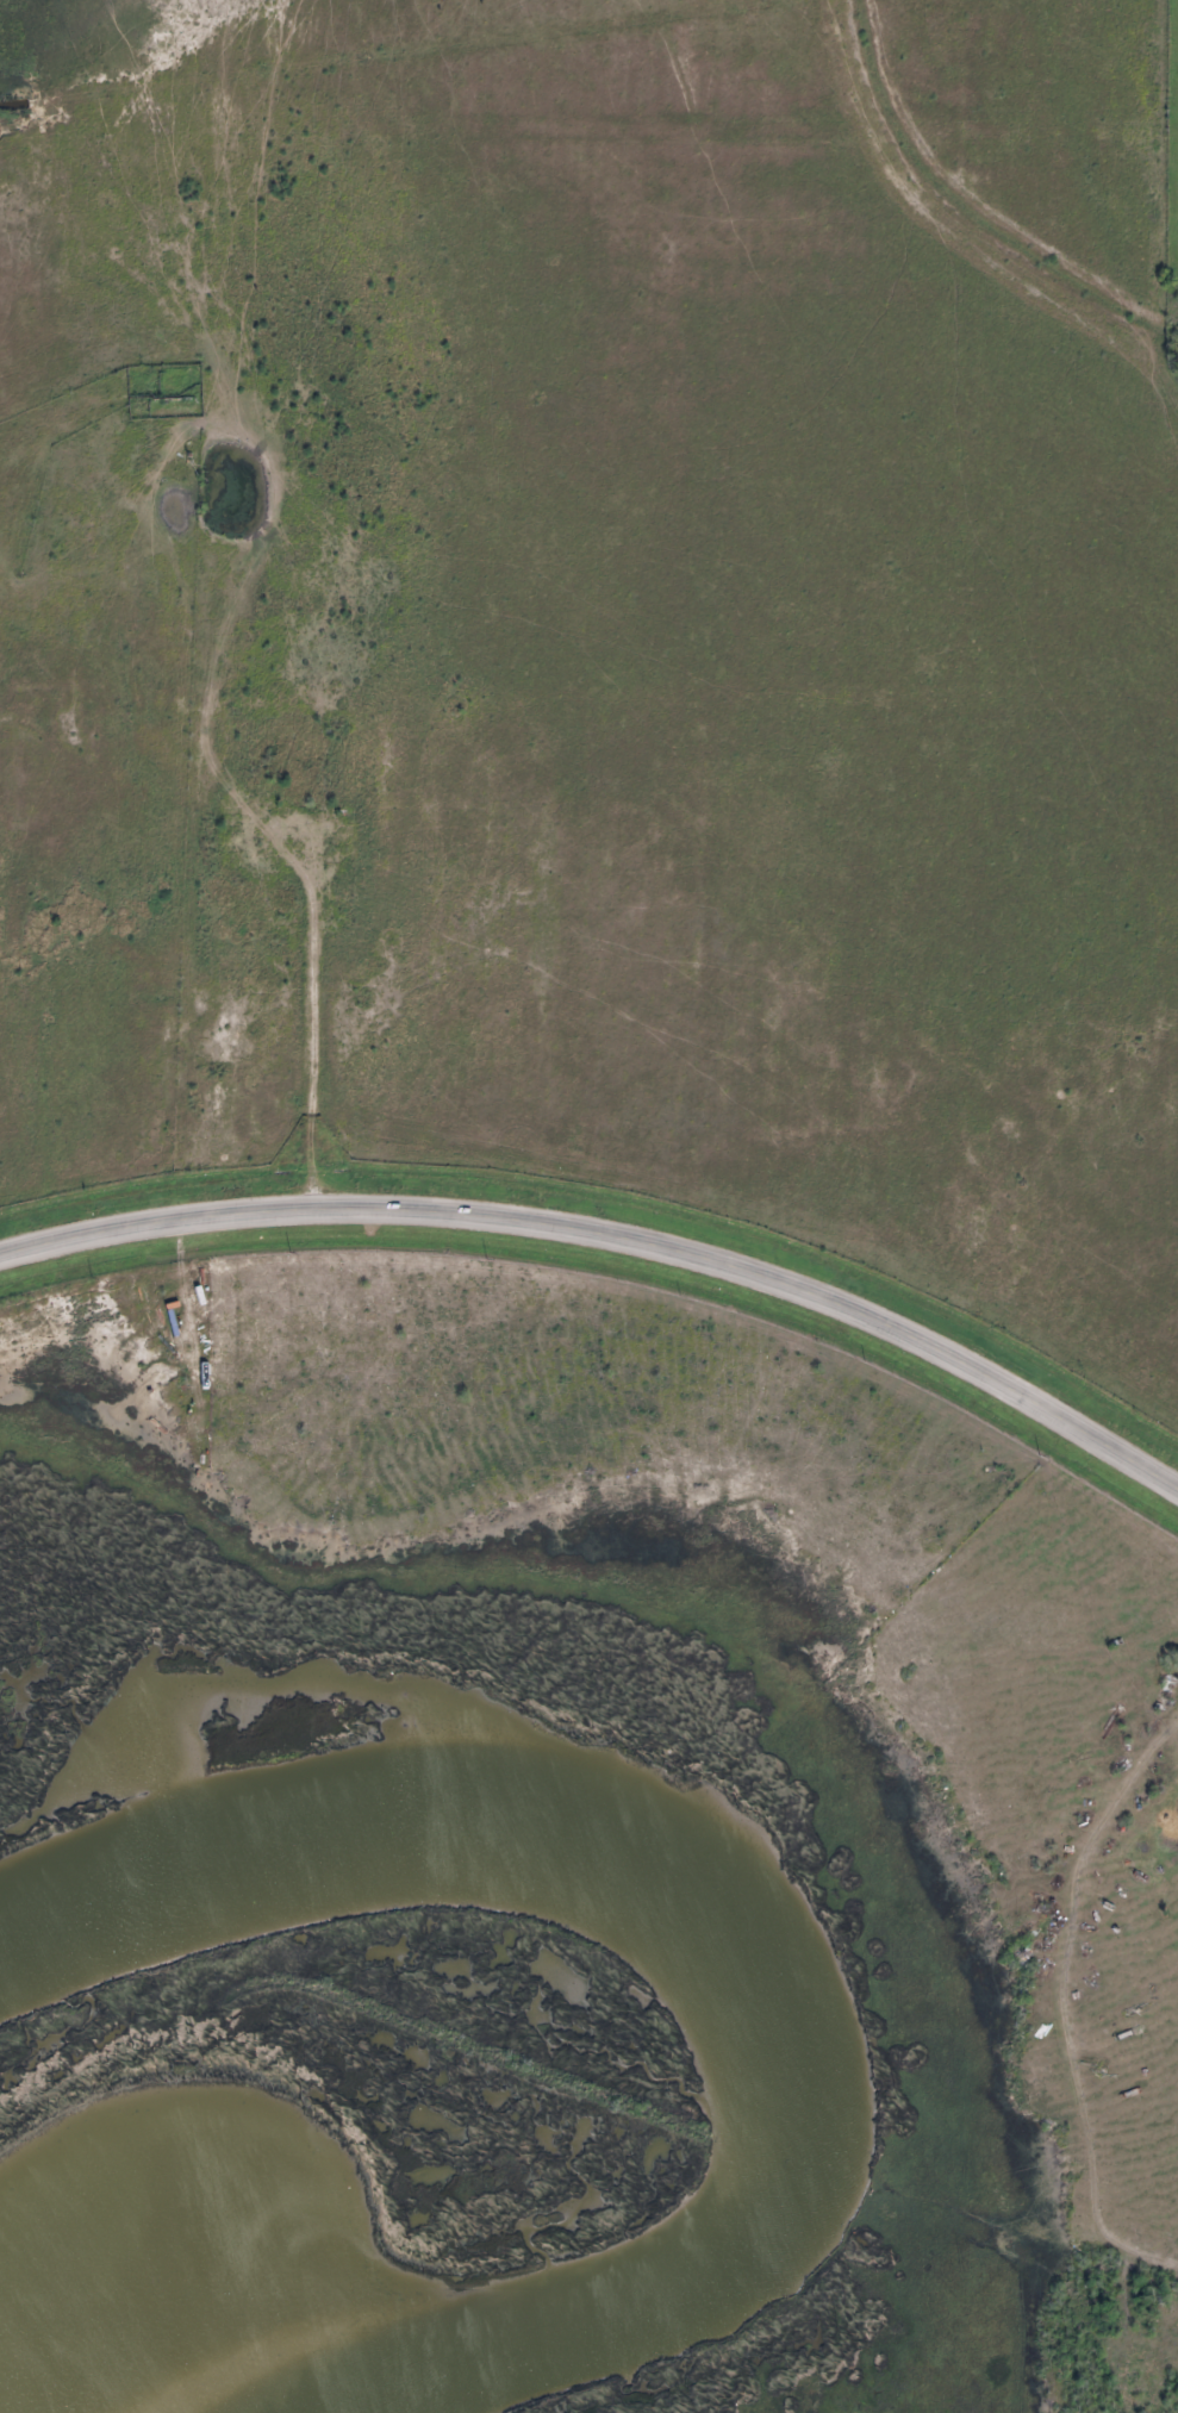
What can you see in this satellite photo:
airport: (1171, 160)
park: (1173, 349)
road: (615, 1235)

